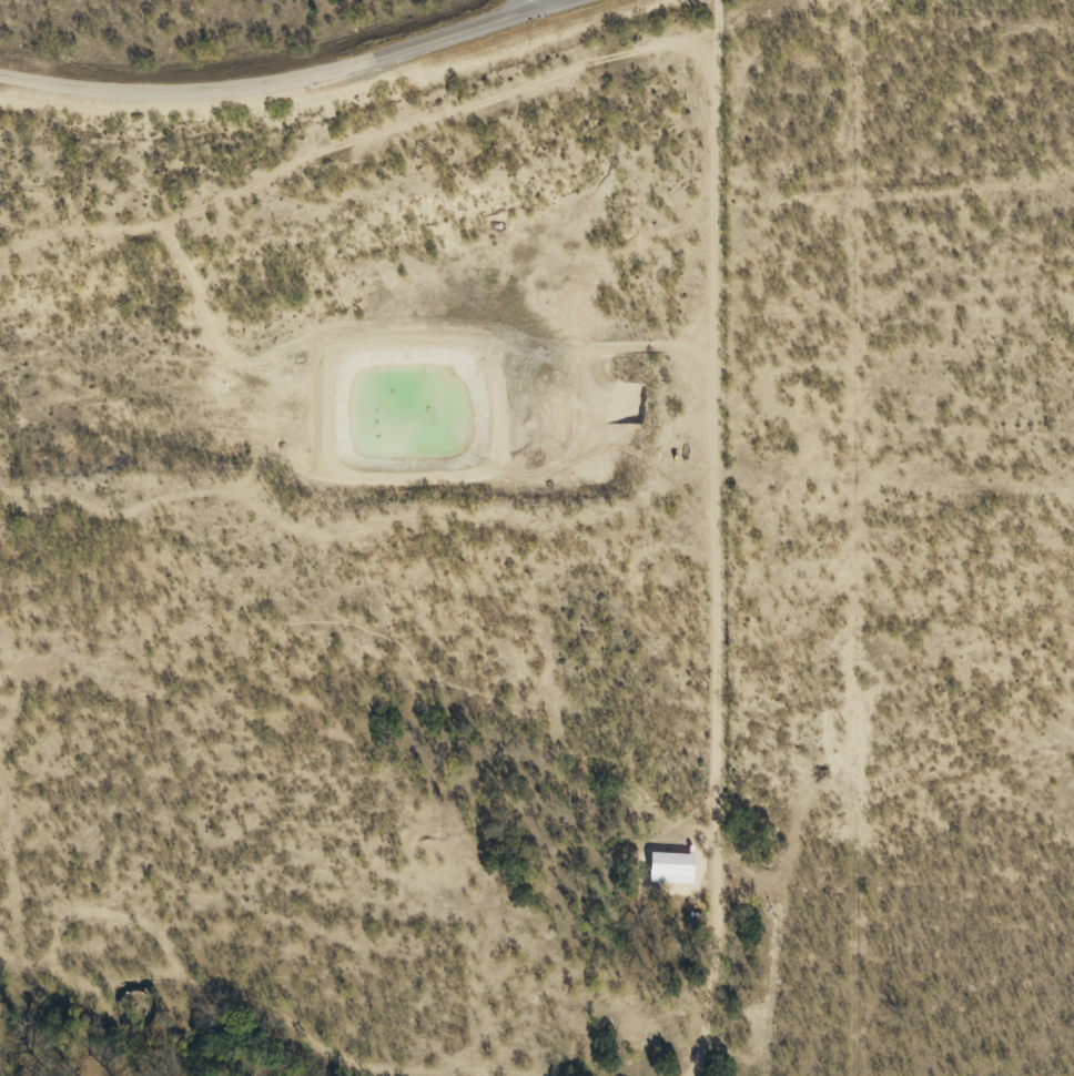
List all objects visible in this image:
road: (530, 6)
road: (548, 6)
road: (268, 82)
road: (719, 538)

